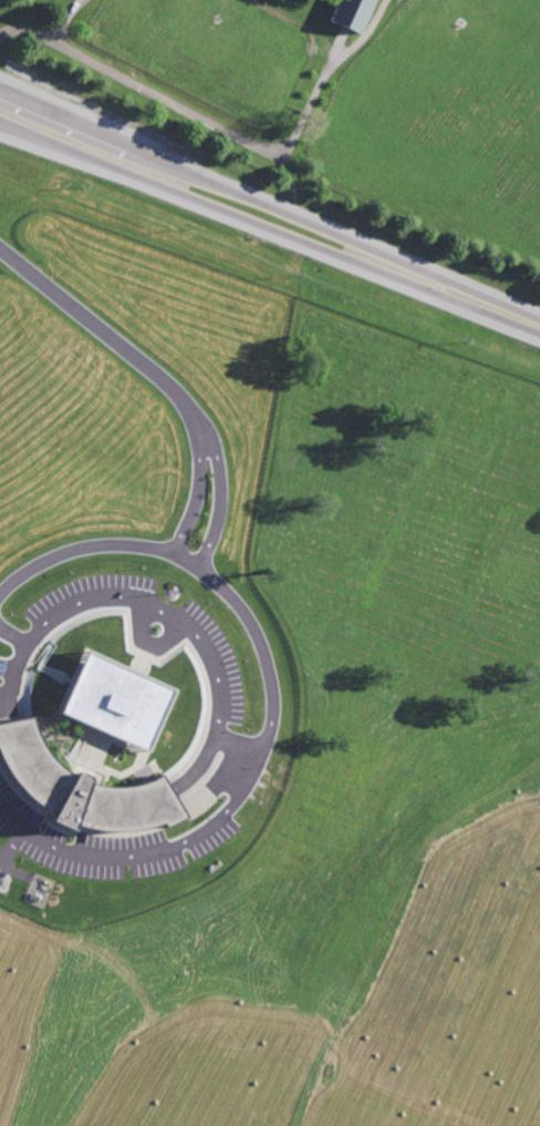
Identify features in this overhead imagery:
building: (351, 13)
road: (225, 129)
road: (269, 206)
road: (269, 234)
road: (93, 326)
road: (188, 412)
road: (168, 613)
building: (112, 700)
road: (270, 703)
building: (77, 789)
crop: (345, 795)
building: (33, 898)

